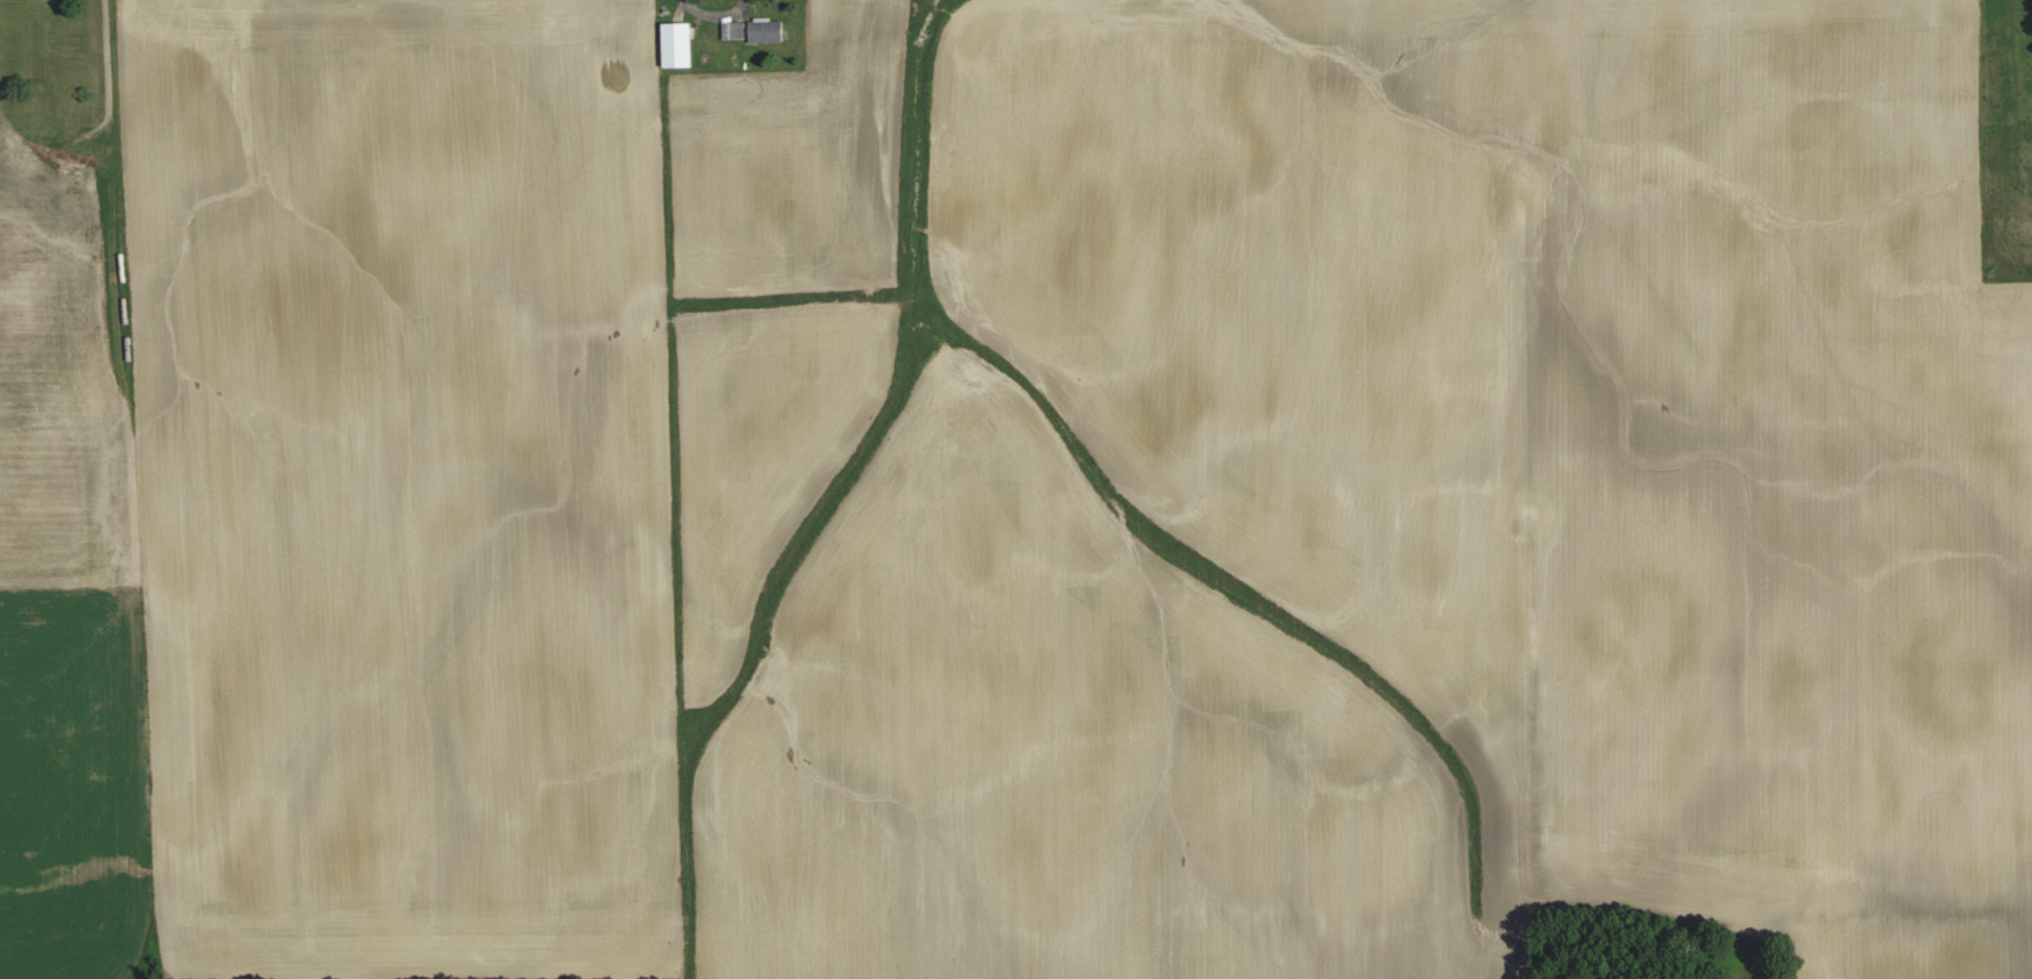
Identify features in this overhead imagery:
building: (734, 30)
building: (767, 30)
building: (677, 44)
building: (16, 140)

